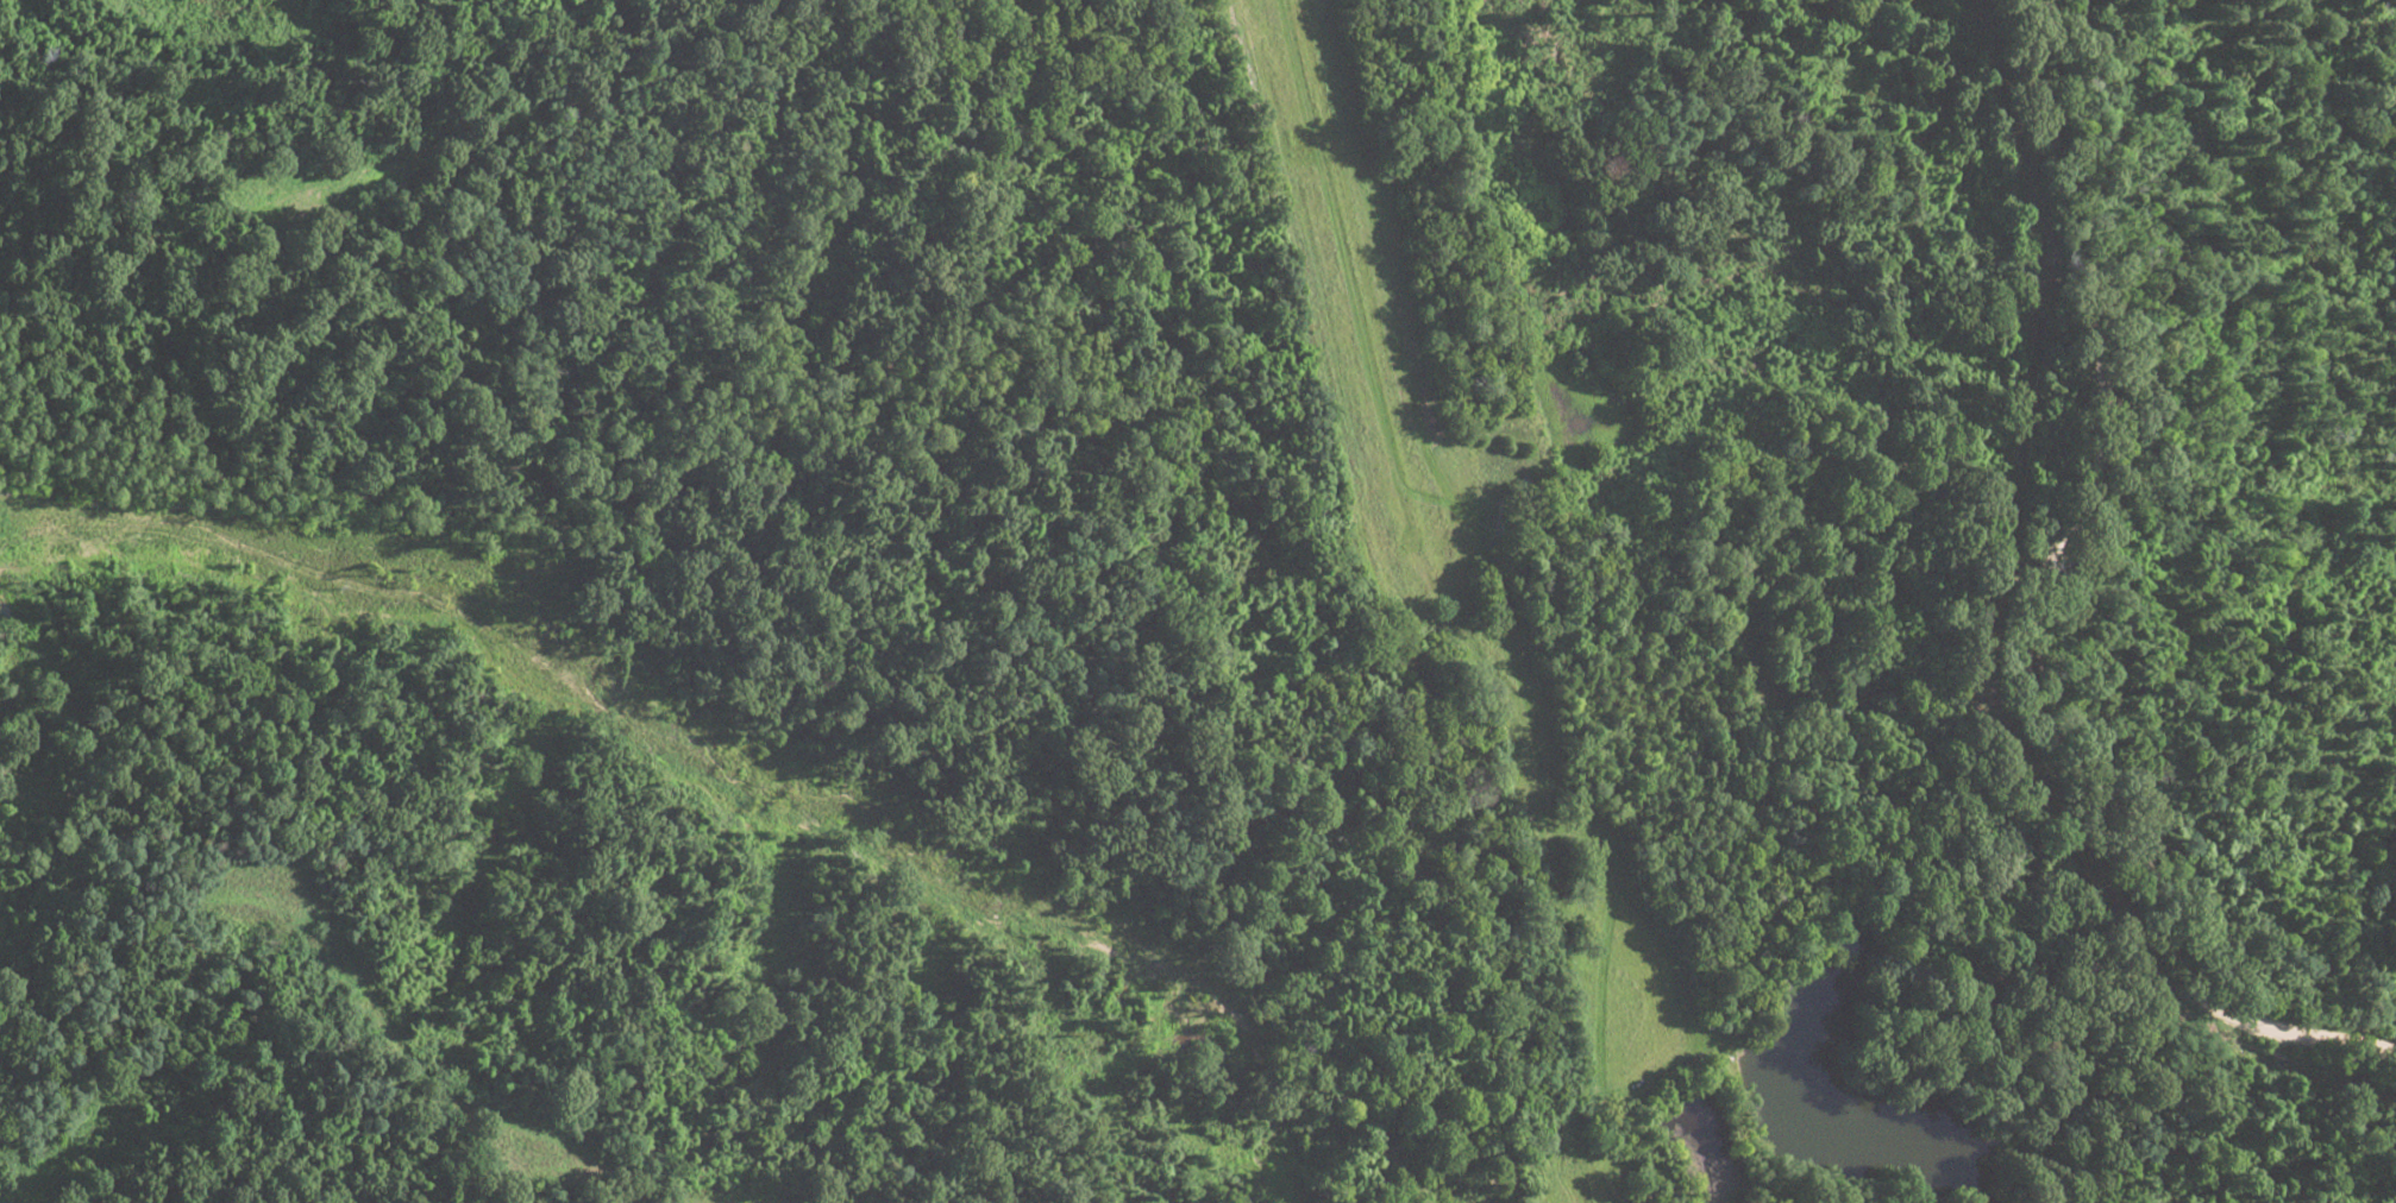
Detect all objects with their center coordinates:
road: (1217, 6)
road: (1445, 604)
road: (2032, 618)

